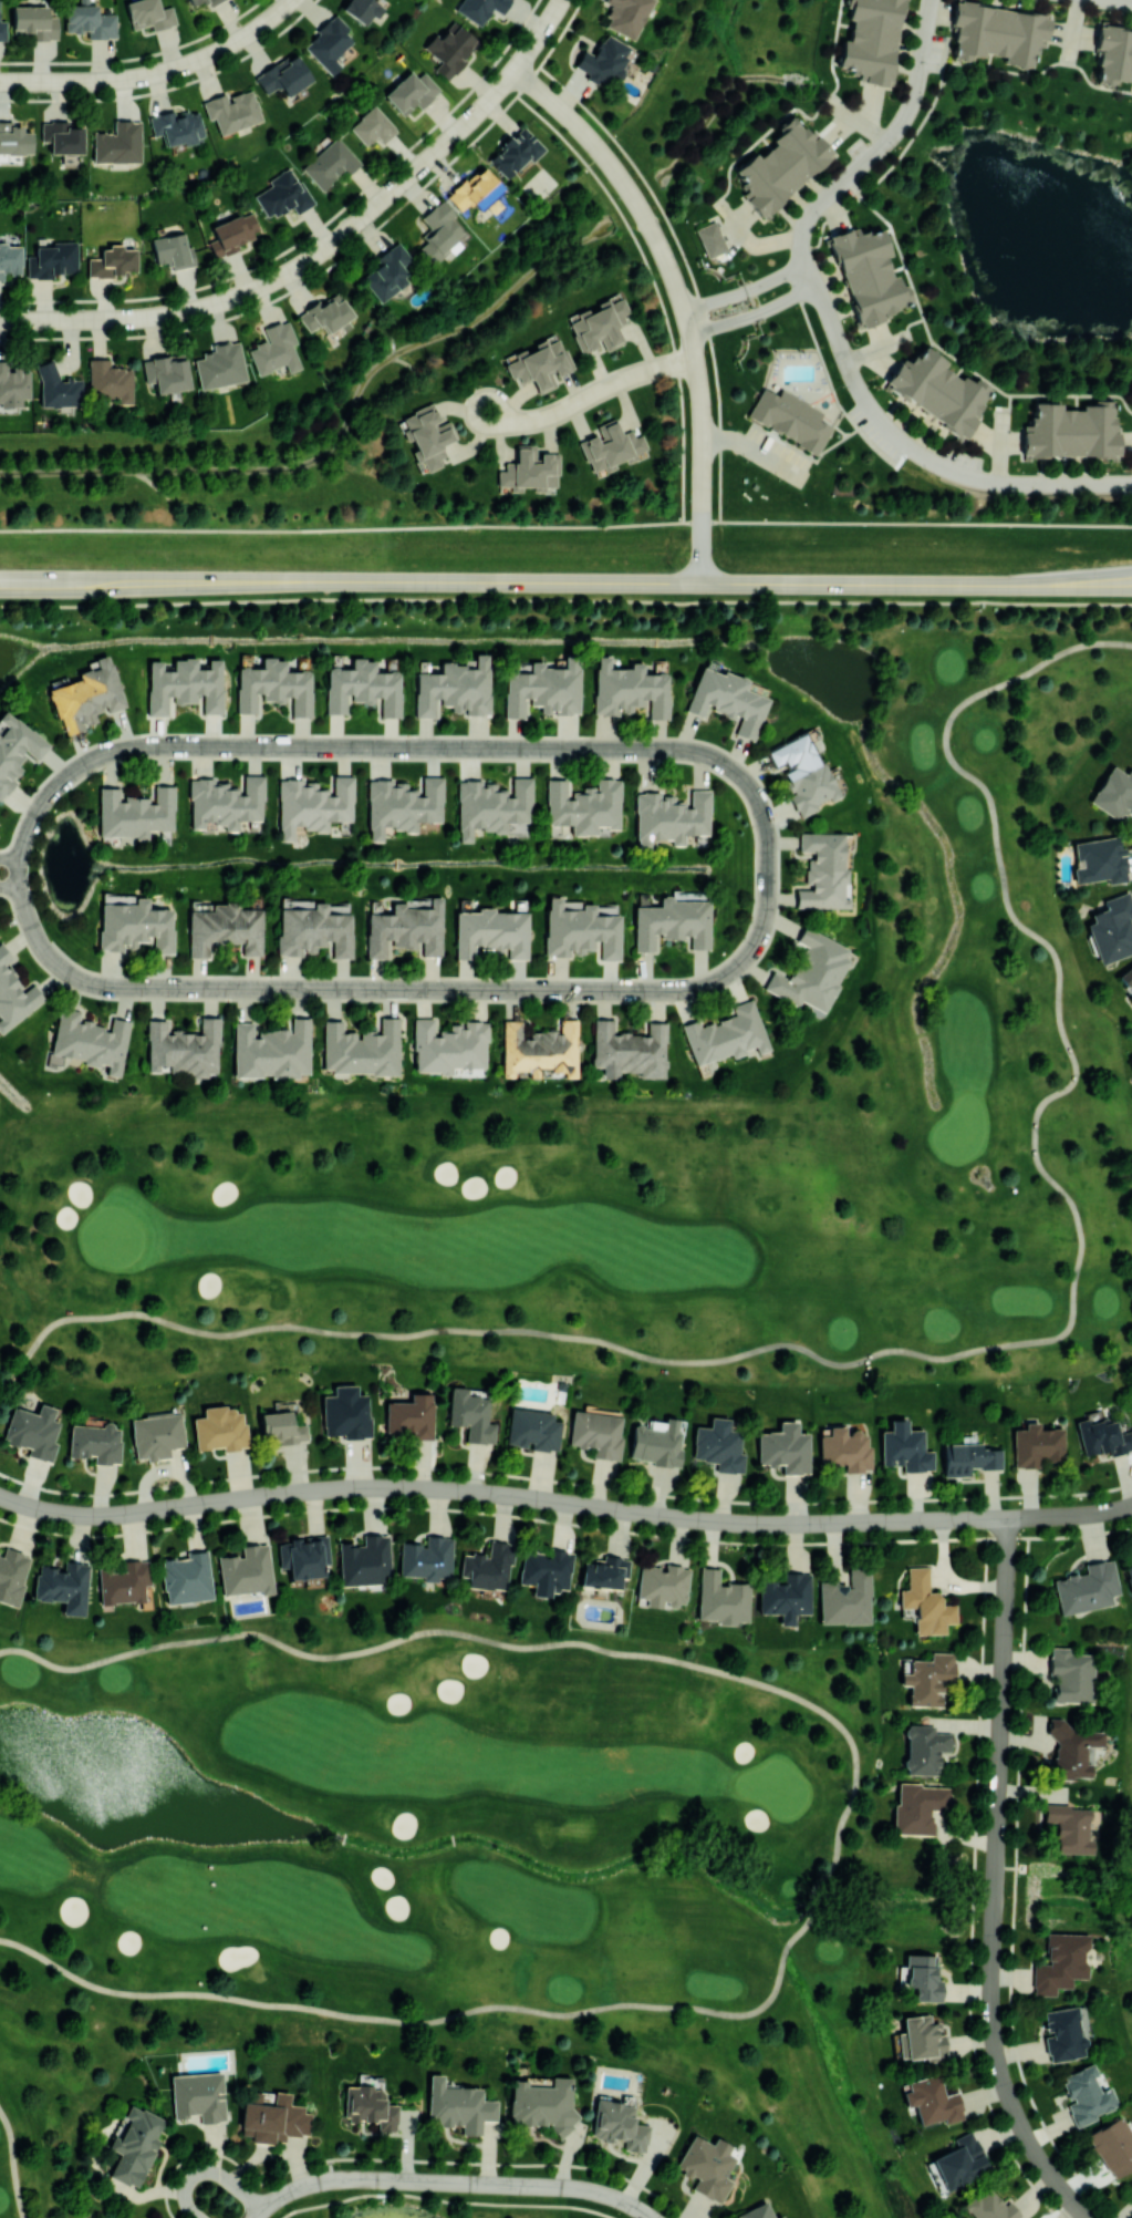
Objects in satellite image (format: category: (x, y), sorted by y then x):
road: (1128, 0)
building: (194, 1)
building: (211, 2)
building: (480, 9)
building: (360, 10)
building: (149, 14)
building: (626, 16)
building: (35, 21)
building: (90, 21)
building: (2, 30)
building: (998, 30)
building: (871, 38)
building: (328, 43)
building: (450, 49)
building: (1113, 52)
building: (604, 61)
road: (155, 73)
building: (283, 75)
building: (411, 92)
building: (232, 110)
building: (177, 126)
building: (371, 126)
building: (61, 137)
building: (13, 138)
building: (117, 143)
building: (515, 152)
building: (330, 163)
building: (780, 165)
building: (476, 192)
building: (282, 194)
road: (868, 205)
building: (232, 233)
building: (438, 233)
building: (710, 239)
road: (326, 247)
building: (173, 251)
building: (52, 259)
building: (113, 261)
building: (870, 271)
building: (386, 272)
road: (744, 289)
road: (679, 298)
building: (323, 313)
road: (752, 313)
building: (599, 326)
road: (830, 327)
building: (274, 349)
building: (539, 363)
building: (219, 365)
building: (166, 373)
building: (108, 382)
building: (12, 385)
building: (56, 388)
building: (937, 390)
road: (590, 395)
building: (791, 419)
building: (1072, 433)
building: (427, 435)
building: (610, 445)
road: (754, 450)
building: (529, 470)
road: (565, 526)
road: (1072, 578)
road: (506, 581)
road: (1071, 587)
road: (565, 599)
building: (184, 685)
building: (272, 687)
building: (362, 688)
building: (454, 688)
building: (541, 688)
building: (629, 689)
building: (86, 695)
building: (727, 700)
road: (396, 747)
building: (15, 749)
building: (801, 771)
building: (1113, 792)
building: (225, 802)
building: (312, 804)
building: (402, 805)
building: (583, 805)
building: (135, 813)
building: (671, 816)
road: (9, 858)
building: (1099, 860)
building: (822, 870)
road: (9, 887)
building: (672, 922)
building: (135, 924)
building: (405, 928)
building: (1112, 928)
building: (224, 929)
building: (581, 930)
building: (491, 932)
building: (811, 971)
building: (1126, 981)
road: (399, 988)
building: (13, 994)
building: (726, 1034)
building: (90, 1041)
building: (448, 1046)
building: (183, 1048)
building: (361, 1049)
building: (271, 1050)
building: (540, 1050)
building: (629, 1050)
park: (677, 1122)
road: (955, 1355)
building: (1131, 1406)
building: (345, 1412)
building: (411, 1415)
building: (470, 1415)
building: (282, 1426)
building: (220, 1428)
building: (532, 1430)
building: (32, 1431)
building: (595, 1433)
building: (156, 1435)
building: (1102, 1436)
building: (95, 1443)
building: (656, 1443)
building: (1036, 1444)
building: (717, 1445)
building: (904, 1447)
building: (783, 1448)
building: (843, 1448)
building: (968, 1458)
road: (502, 1494)
road: (1070, 1514)
building: (303, 1556)
building: (426, 1558)
building: (363, 1560)
building: (487, 1567)
building: (246, 1570)
building: (544, 1570)
building: (603, 1571)
building: (12, 1575)
building: (1129, 1576)
building: (186, 1578)
building: (125, 1583)
building: (63, 1586)
building: (662, 1586)
building: (1086, 1588)
building: (786, 1597)
building: (721, 1598)
building: (845, 1598)
building: (925, 1603)
road: (510, 1646)
building: (1070, 1674)
building: (927, 1679)
building: (924, 1748)
building: (1070, 1750)
building: (918, 1807)
building: (1069, 1828)
road: (343, 1838)
road: (453, 1839)
park: (472, 1867)
road: (995, 1880)
road: (810, 1901)
building: (1060, 1962)
building: (922, 1978)
road: (432, 2021)
building: (1062, 2034)
building: (921, 2039)
building: (1084, 2095)
building: (197, 2097)
building: (933, 2100)
building: (370, 2104)
building: (542, 2104)
building: (458, 2106)
building: (273, 2119)
building: (619, 2123)
building: (134, 2144)
building: (1112, 2145)
building: (959, 2160)
road: (12, 2164)
building: (706, 2166)
road: (210, 2171)
road: (450, 2183)
park: (420, 2200)
building: (990, 2207)
building: (756, 2211)
building: (779, 2216)

